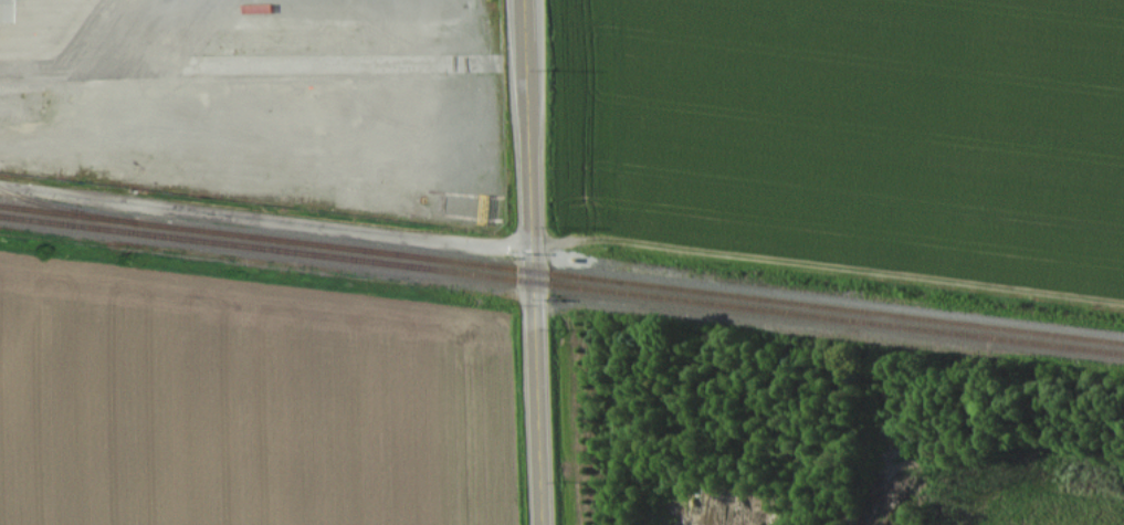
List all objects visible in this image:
building: (6, 10)
railway: (69, 208)
road: (265, 218)
road: (533, 262)
railway: (561, 274)
railway: (561, 284)

